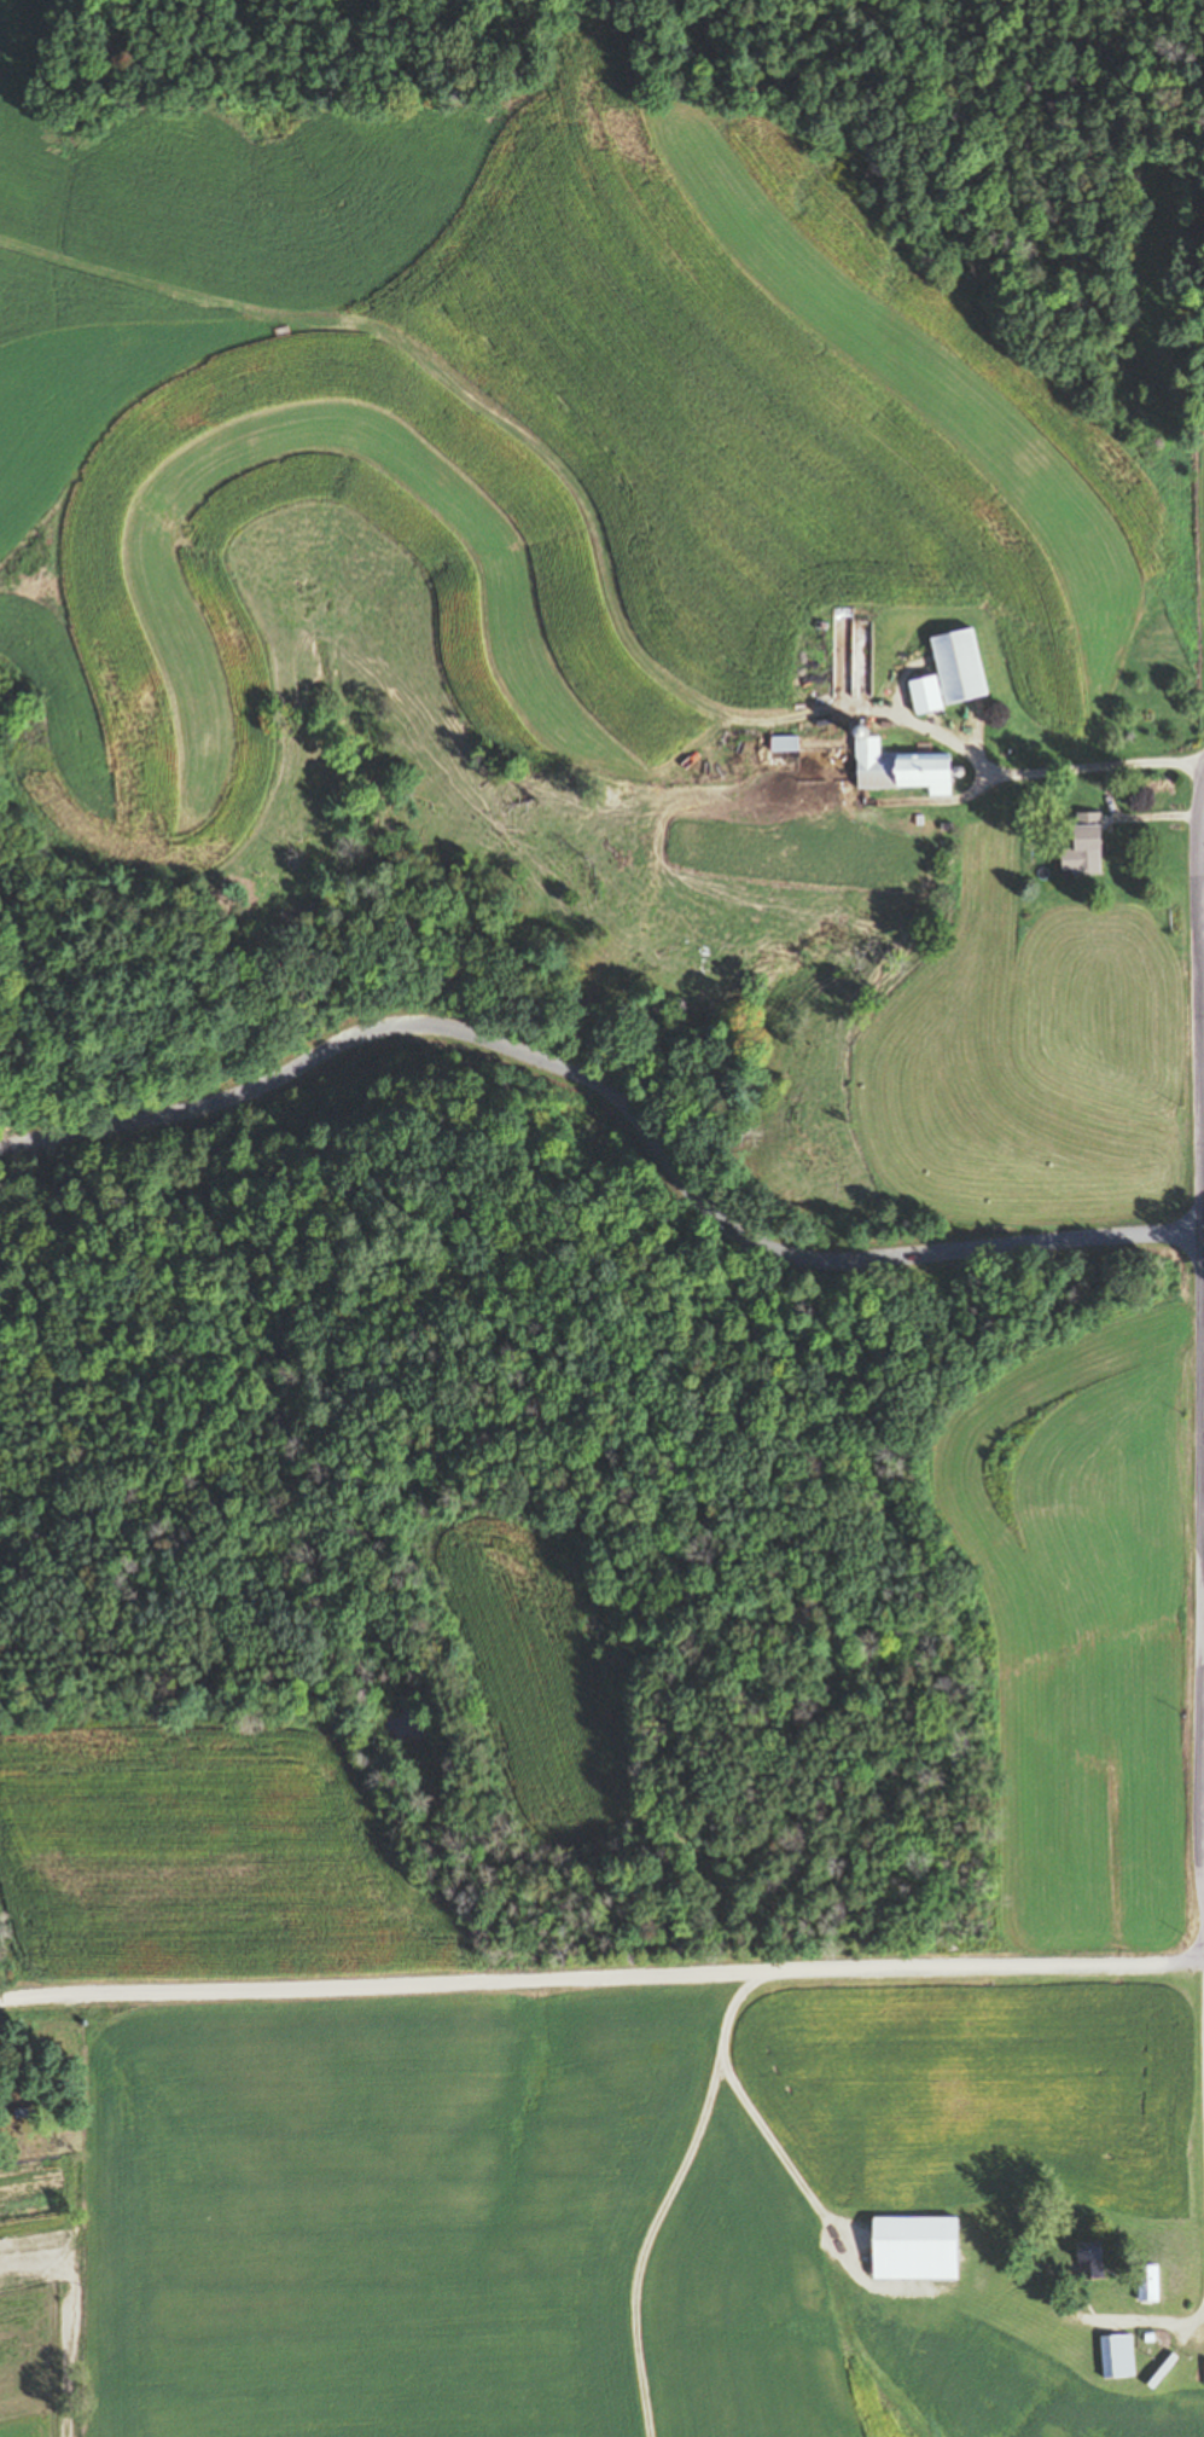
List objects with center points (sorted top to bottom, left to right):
building: (950, 674)
building: (784, 745)
building: (901, 770)
building: (1087, 849)
road: (1203, 919)
road: (621, 1095)
road: (603, 1980)
building: (915, 2250)
building: (1090, 2262)
building: (1147, 2285)
road: (1151, 2319)
building: (1117, 2356)

